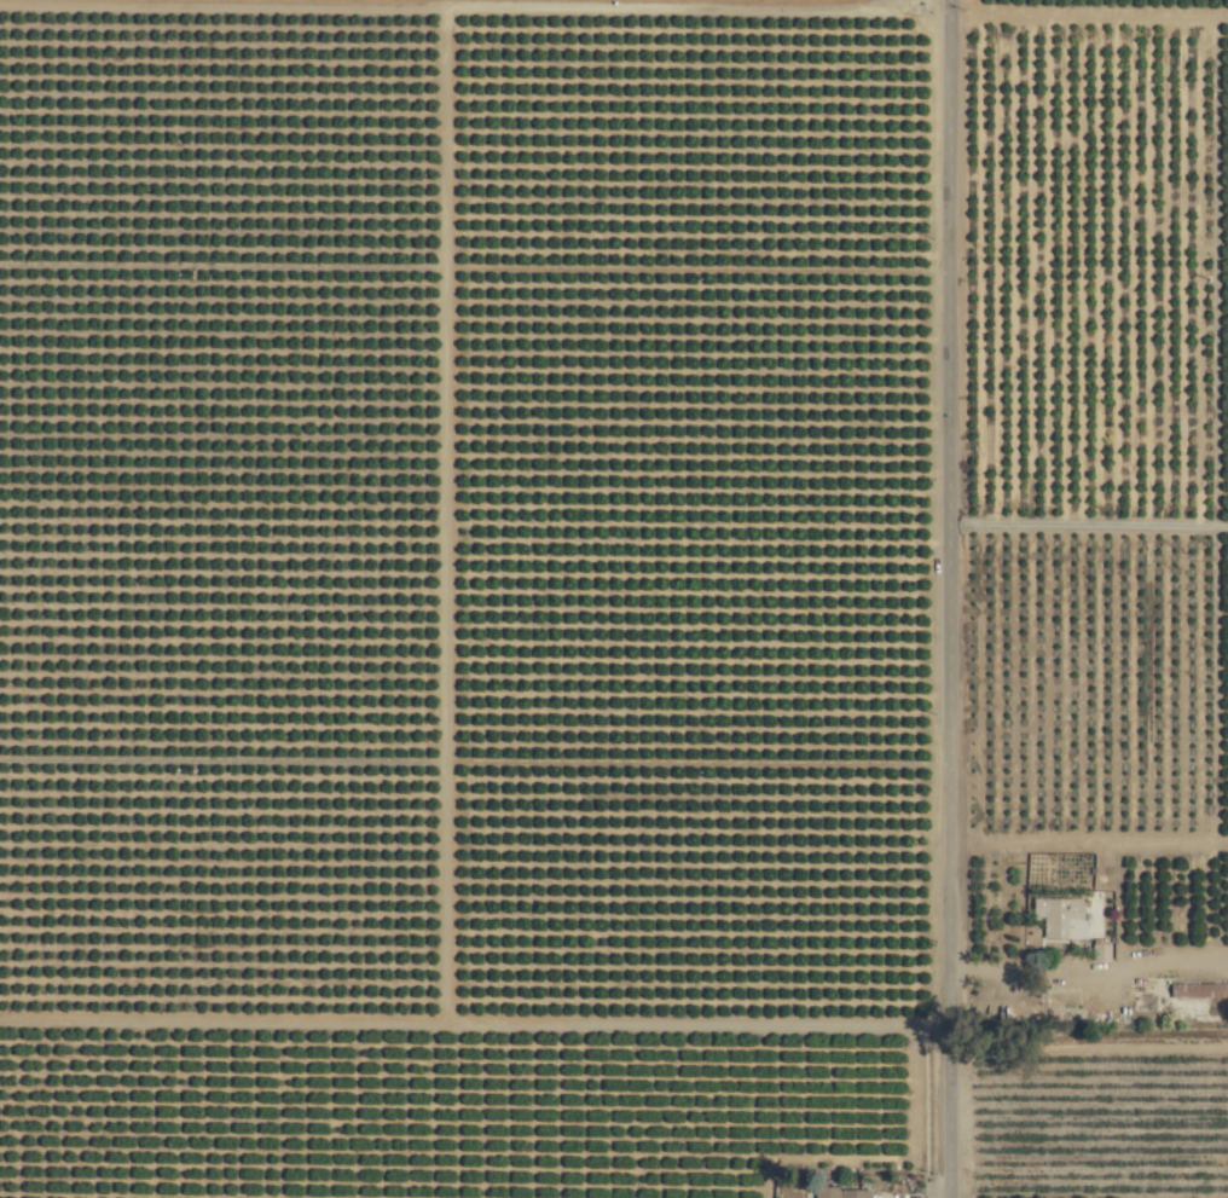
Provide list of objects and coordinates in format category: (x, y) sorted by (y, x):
crop: (614, 598)
road: (951, 598)
building: (1059, 916)
building: (1100, 951)
road: (1083, 972)
building: (1199, 989)
building: (839, 1192)

